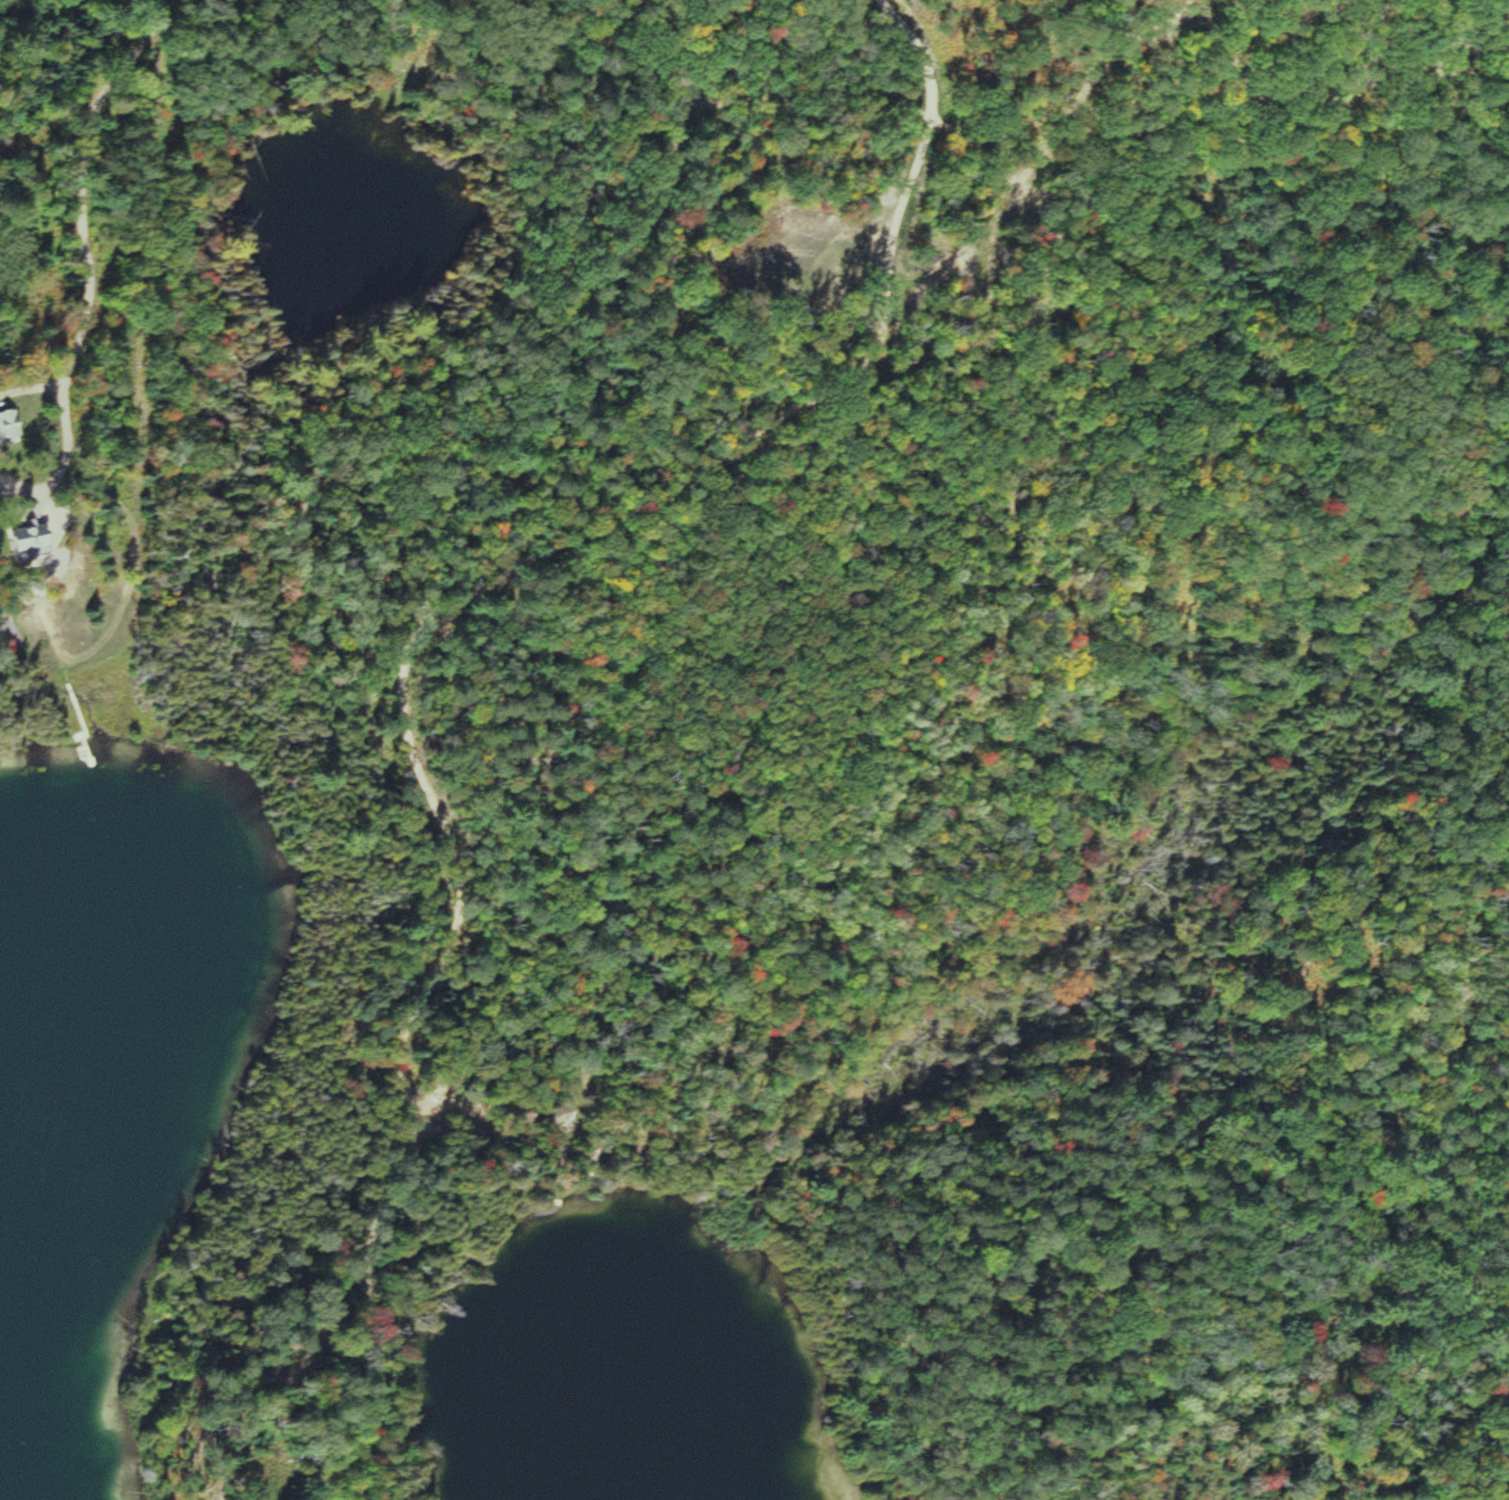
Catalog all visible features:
road: (85, 181)
road: (33, 384)
building: (12, 425)
road: (63, 460)
road: (23, 506)
road: (587, 529)
building: (39, 542)
road: (3, 623)
building: (544, 1116)
road: (464, 1120)
road: (363, 1305)

